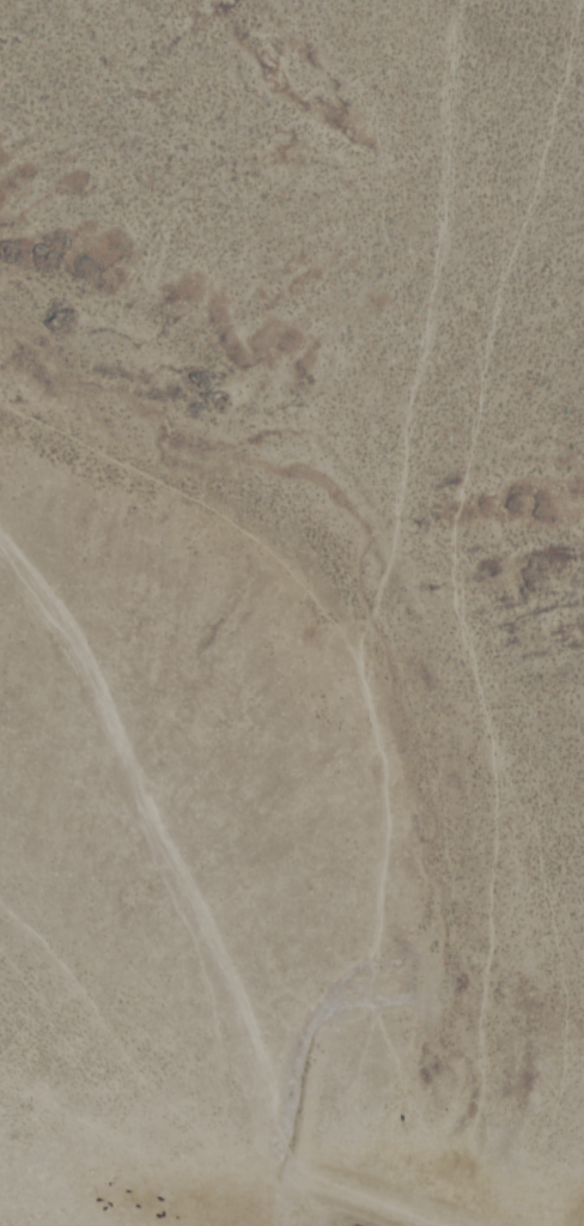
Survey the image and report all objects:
road: (19, 1125)
dam: (351, 1196)

